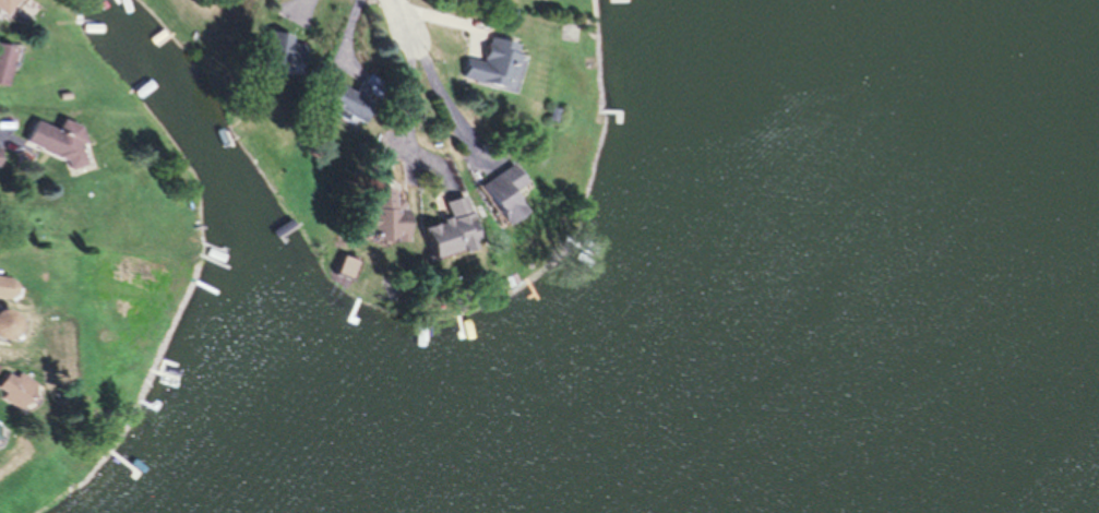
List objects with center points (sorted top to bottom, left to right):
building: (7, 5)
road: (399, 19)
building: (291, 52)
building: (7, 63)
building: (497, 64)
road: (413, 95)
building: (354, 99)
building: (58, 142)
building: (504, 193)
building: (386, 222)
building: (450, 230)
building: (347, 267)
building: (10, 325)
building: (16, 389)
building: (0, 430)

